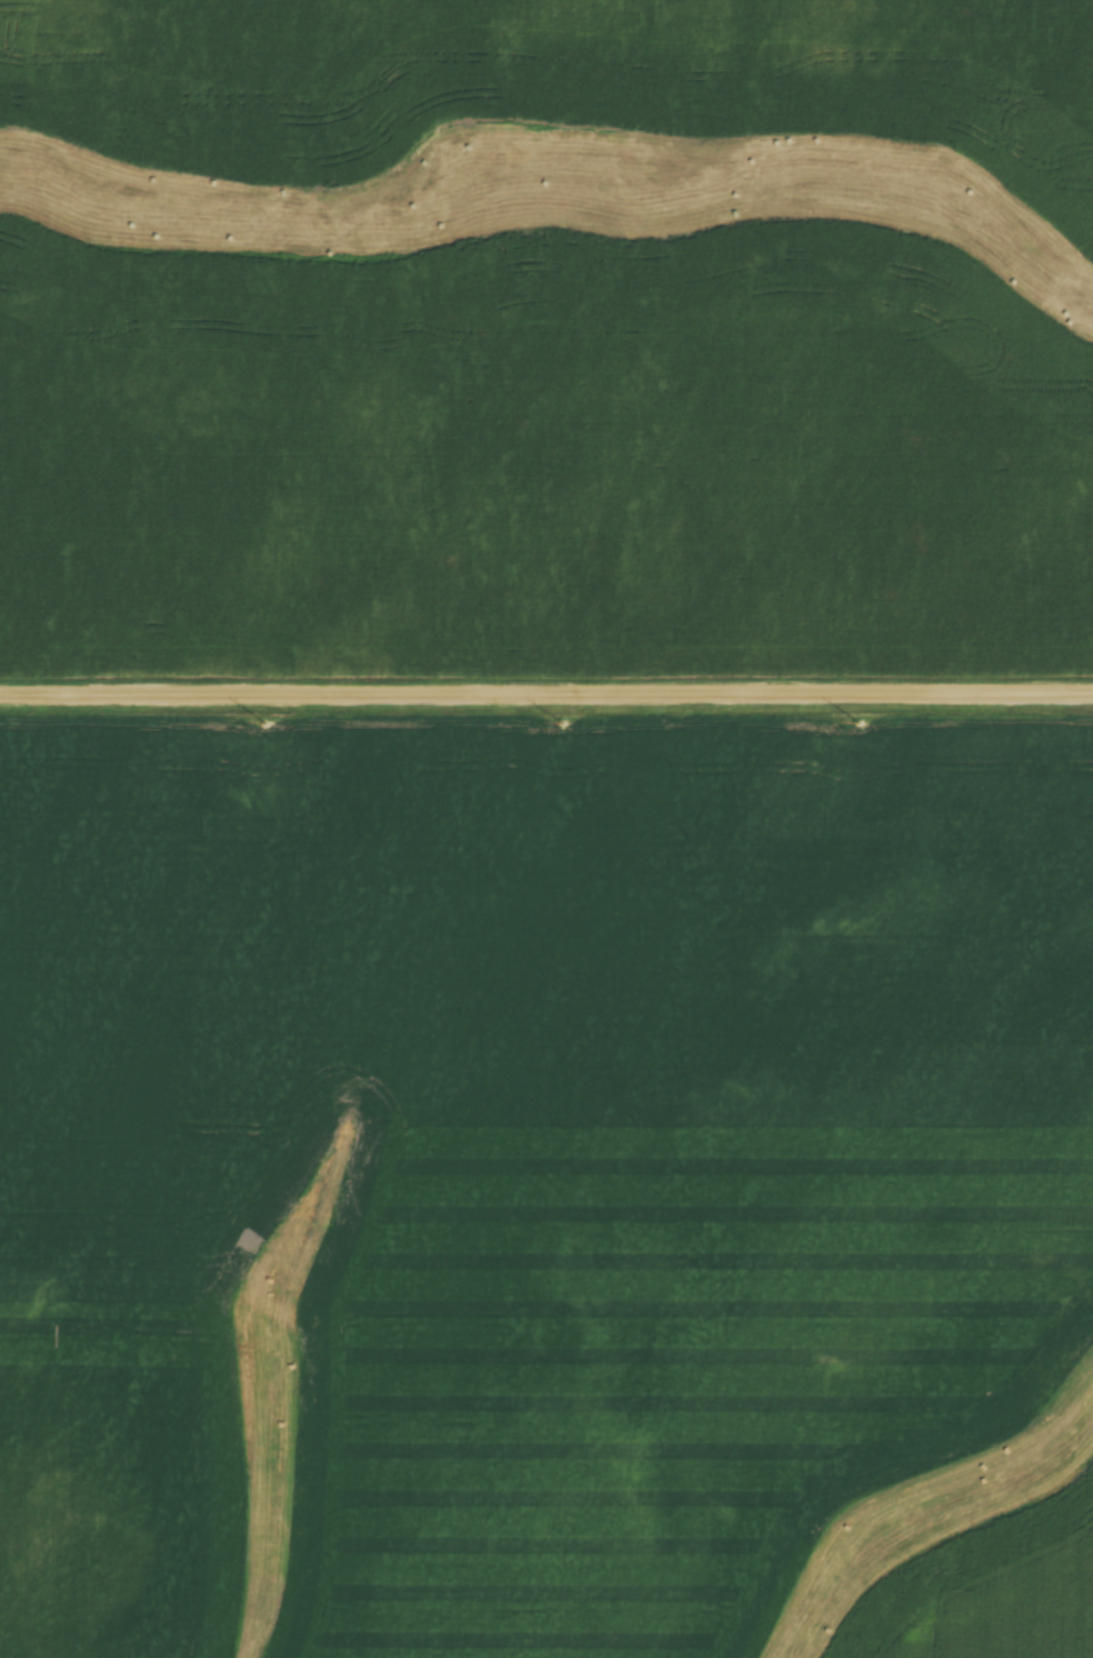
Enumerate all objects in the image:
road: (546, 690)

